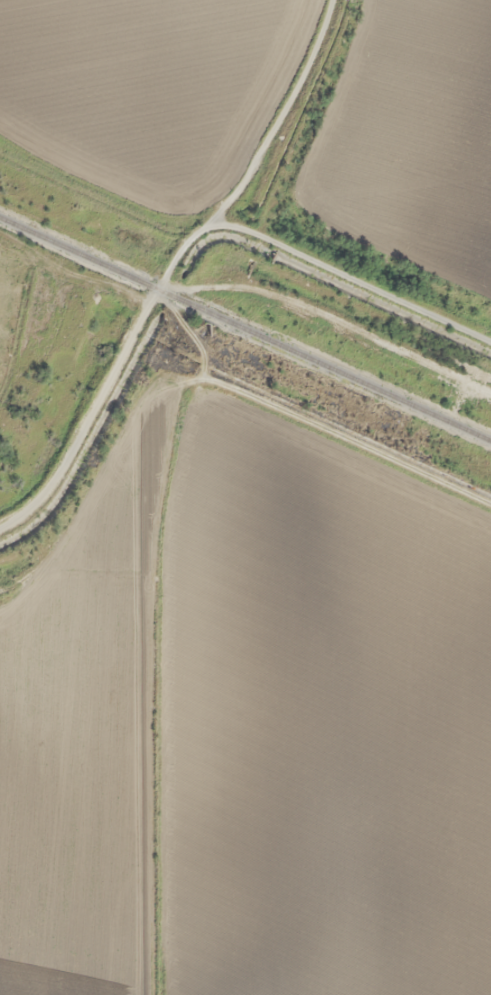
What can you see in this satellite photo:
railway: (245, 329)

